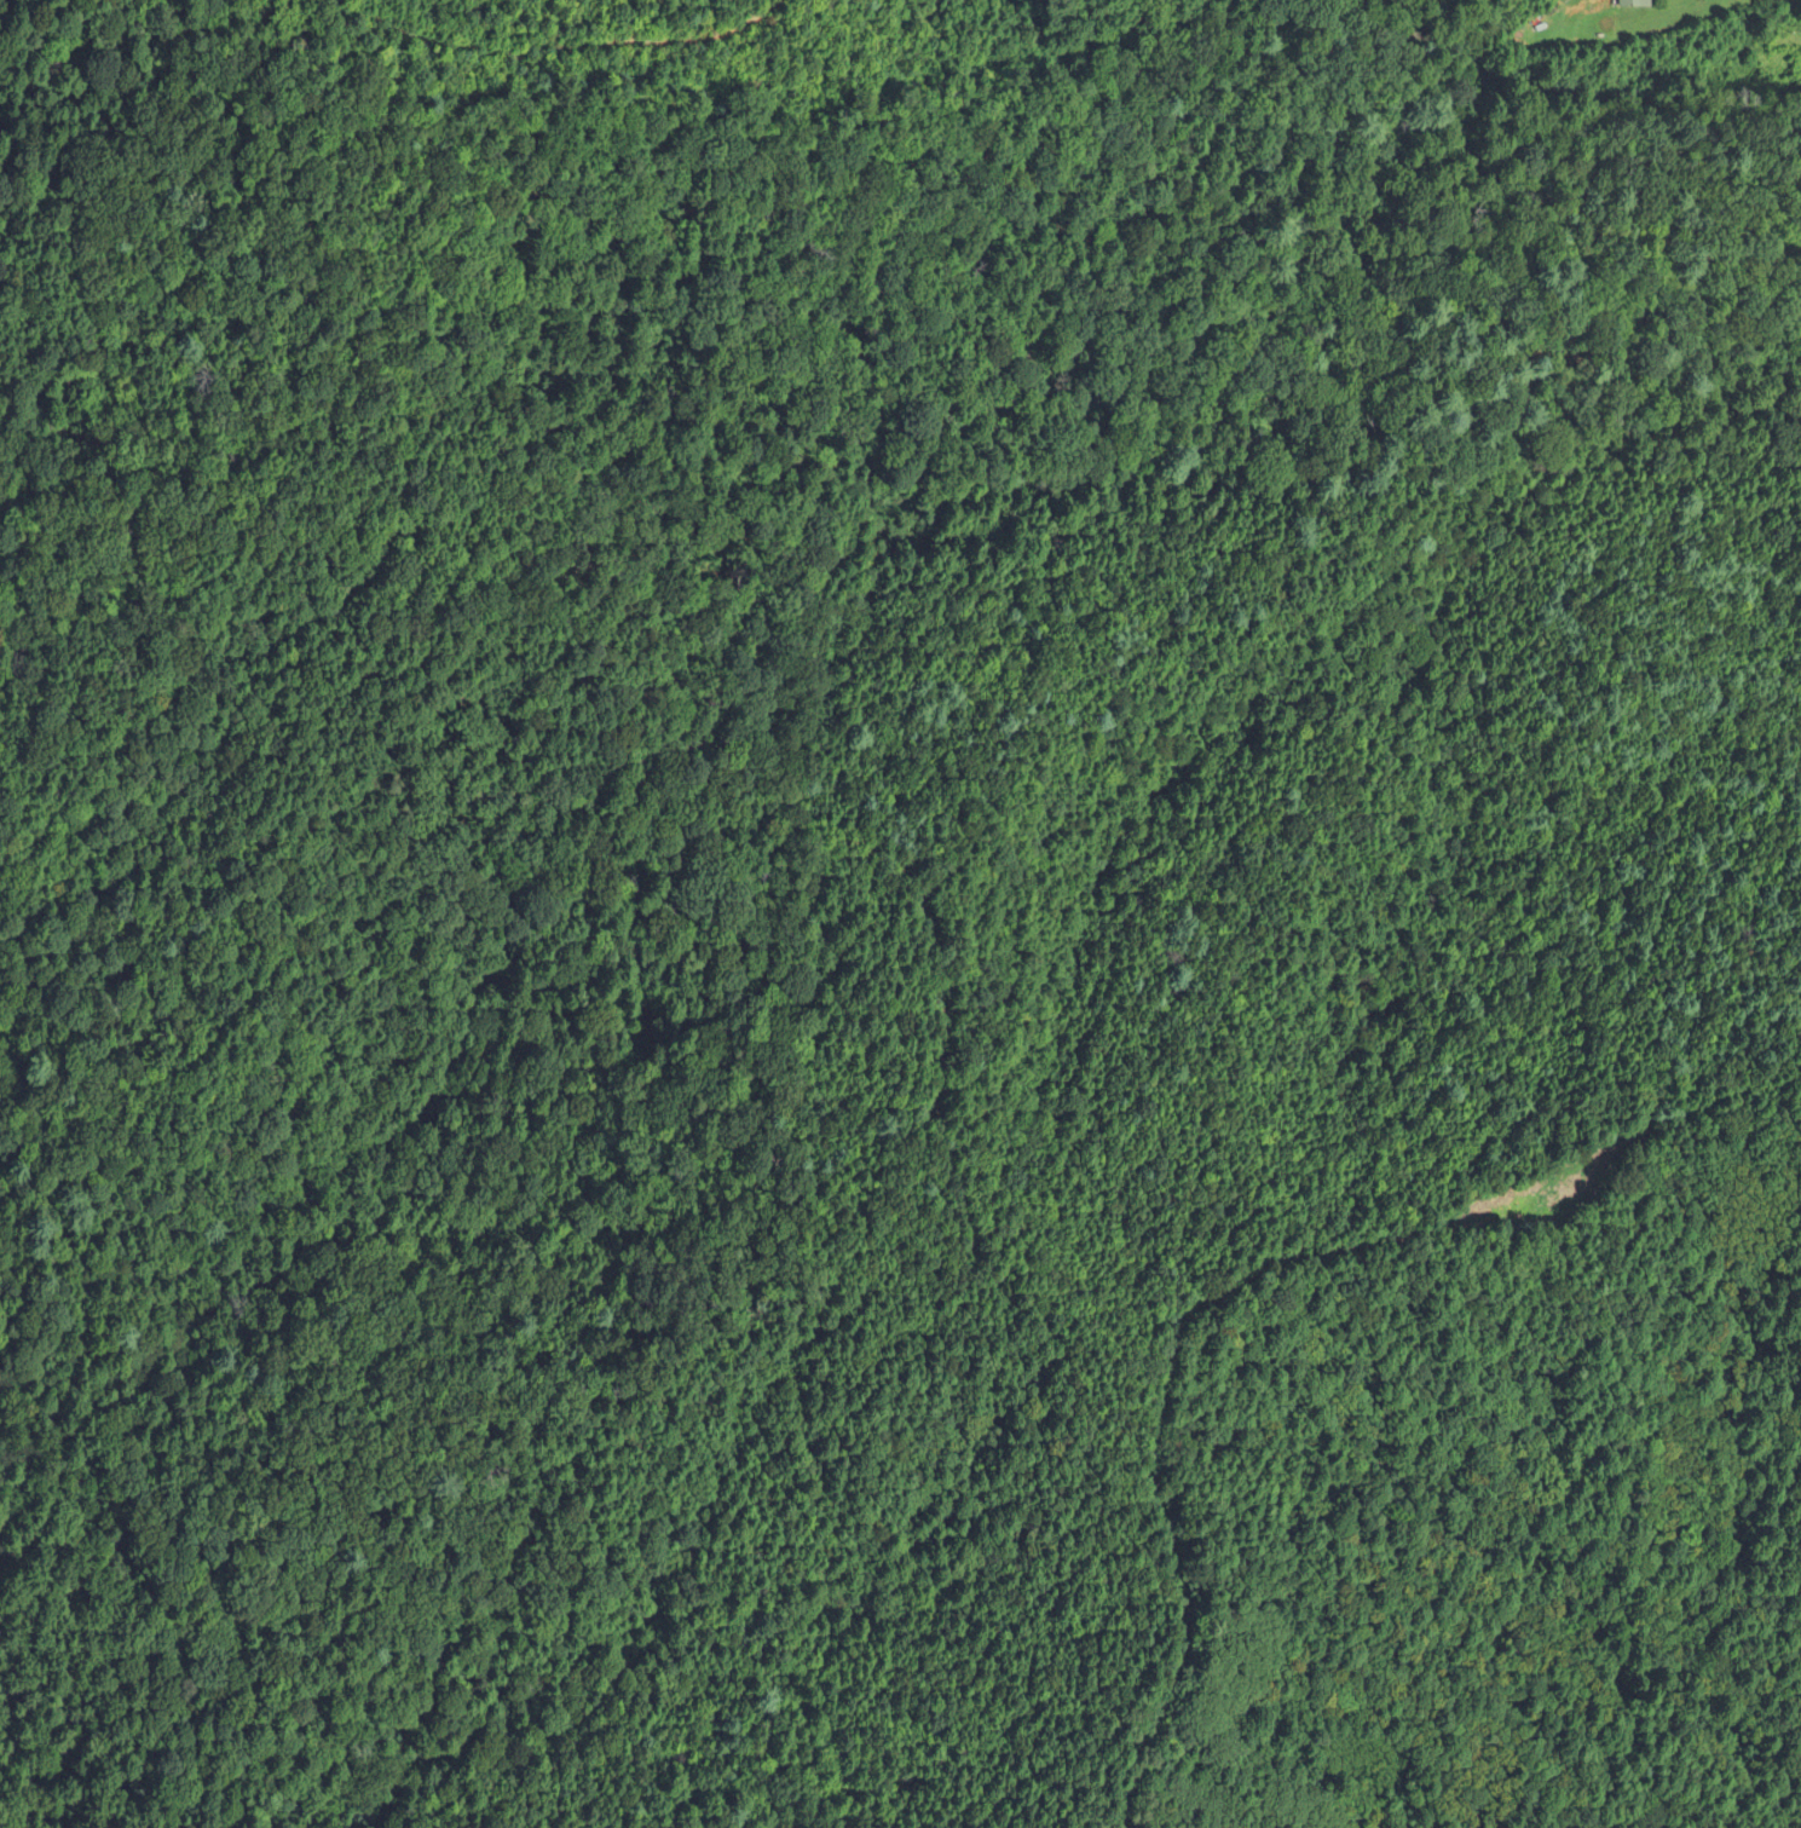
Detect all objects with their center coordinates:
building: (1638, 4)

